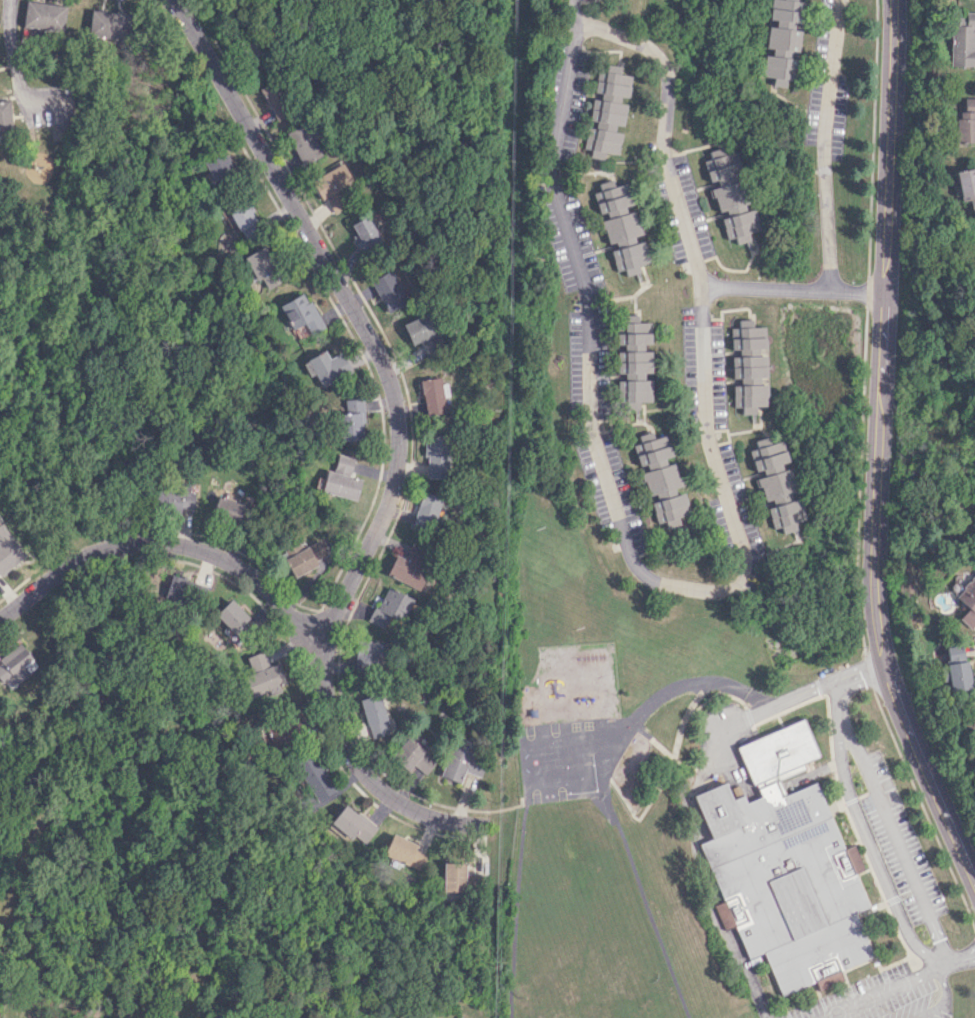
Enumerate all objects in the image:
road: (582, 1)
building: (43, 16)
building: (106, 24)
building: (784, 25)
road: (15, 37)
building: (963, 40)
road: (605, 50)
building: (778, 69)
road: (592, 94)
building: (274, 100)
building: (607, 111)
building: (5, 116)
building: (965, 122)
road: (587, 123)
road: (872, 139)
building: (304, 143)
road: (824, 144)
building: (218, 165)
road: (581, 172)
building: (335, 186)
building: (966, 186)
building: (729, 198)
building: (245, 221)
building: (621, 227)
building: (364, 234)
building: (973, 237)
building: (974, 255)
building: (262, 267)
road: (793, 288)
road: (701, 290)
building: (388, 291)
road: (866, 292)
road: (353, 309)
building: (301, 313)
road: (589, 321)
building: (419, 331)
building: (746, 335)
building: (633, 361)
building: (326, 368)
building: (748, 382)
building: (434, 396)
building: (351, 419)
road: (879, 452)
building: (436, 456)
building: (344, 464)
building: (660, 477)
road: (859, 480)
building: (341, 484)
building: (776, 486)
building: (175, 499)
building: (229, 508)
building: (427, 509)
building: (8, 550)
building: (306, 557)
building: (409, 568)
building: (186, 587)
building: (968, 602)
road: (283, 604)
building: (389, 607)
building: (231, 616)
building: (369, 654)
building: (15, 666)
building: (957, 668)
road: (859, 670)
road: (869, 671)
road: (758, 712)
building: (374, 715)
building: (972, 722)
building: (277, 739)
building: (415, 756)
building: (461, 763)
building: (315, 777)
road: (924, 811)
building: (353, 824)
road: (893, 832)
building: (404, 851)
road: (872, 853)
building: (784, 864)
building: (453, 876)
road: (943, 963)
road: (891, 987)
road: (945, 1000)
road: (849, 1014)

